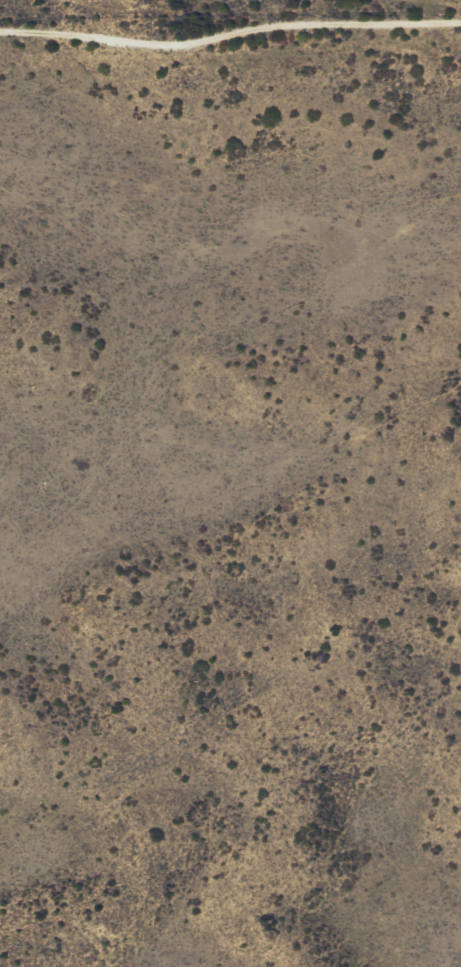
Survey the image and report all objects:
road: (229, 34)

